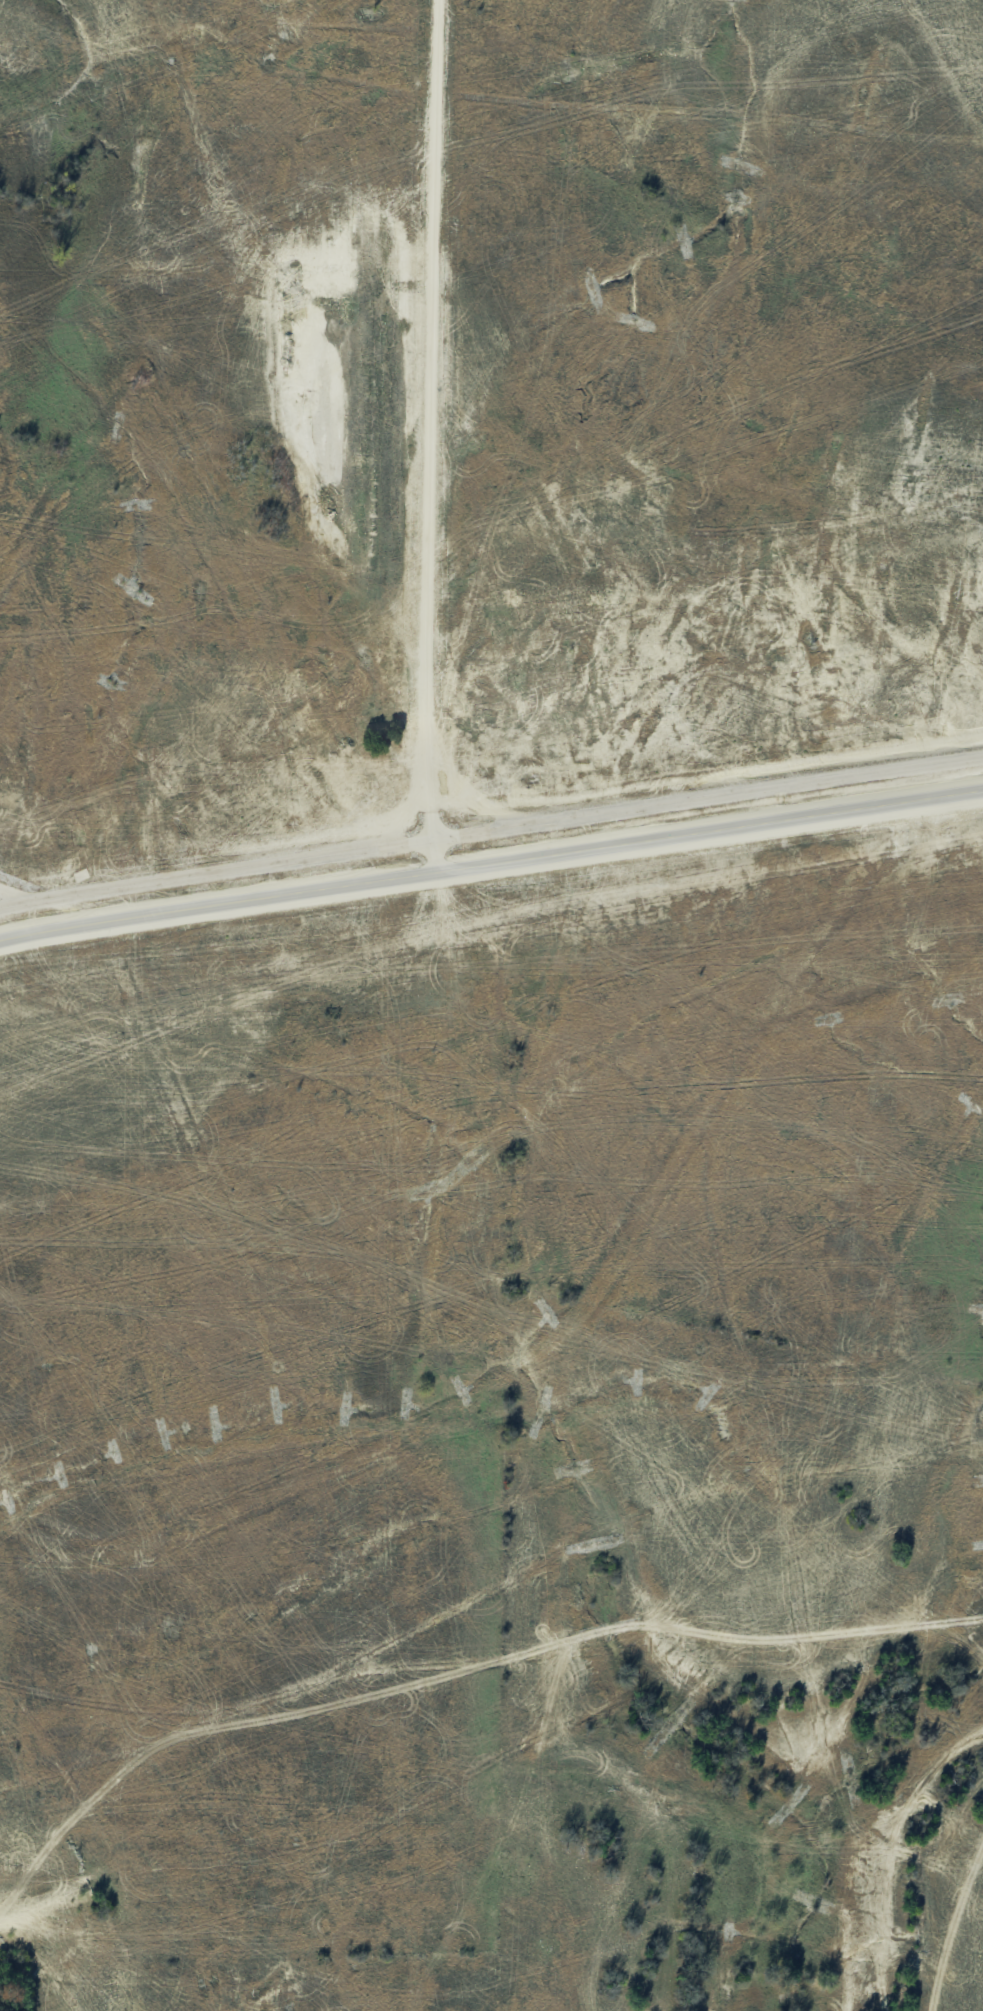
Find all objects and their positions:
road: (425, 567)
road: (491, 829)
road: (491, 867)
road: (13, 895)
dam: (4, 1892)

